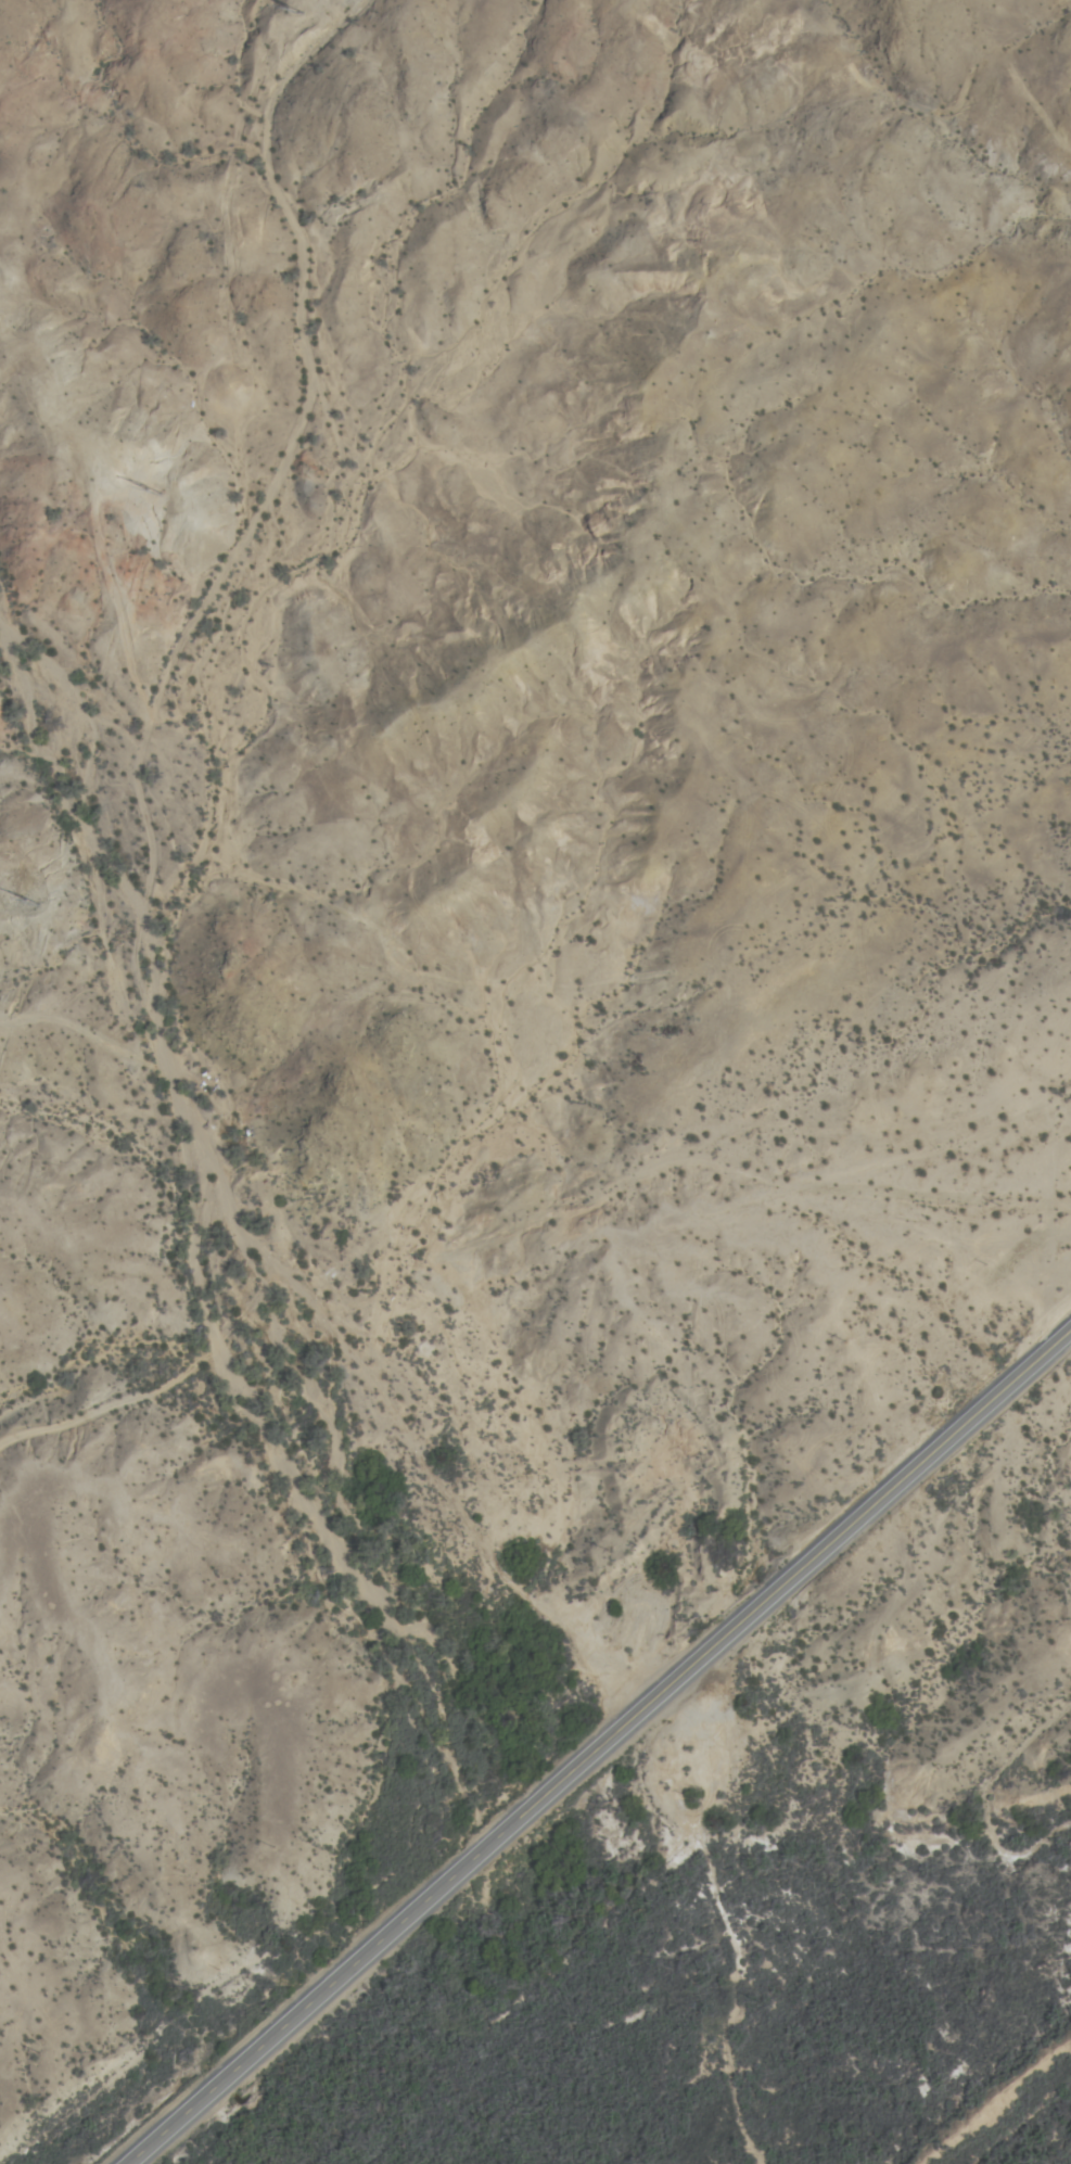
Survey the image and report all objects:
power tower: (293, 8)
power tower: (152, 491)
power tower: (35, 903)
road: (602, 1749)

